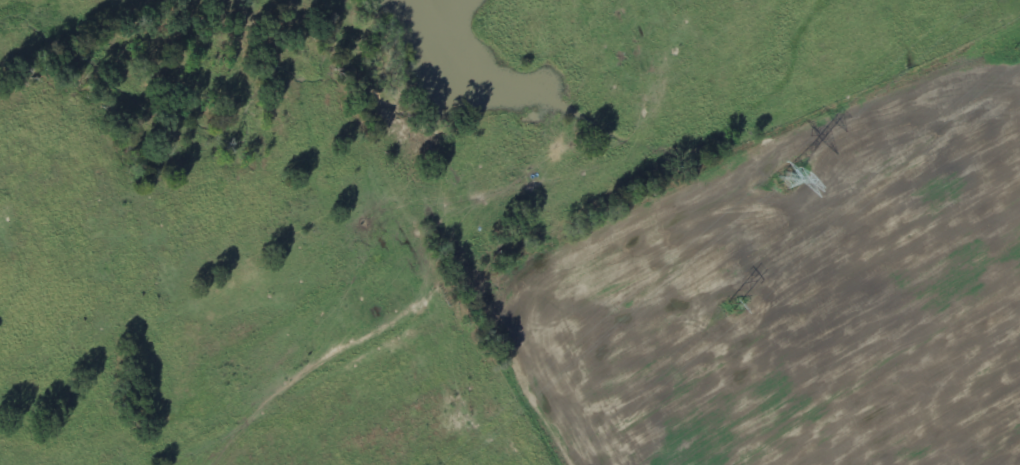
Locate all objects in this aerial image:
power tower: (1015, 50)
power tower: (787, 180)
power tower: (728, 306)

